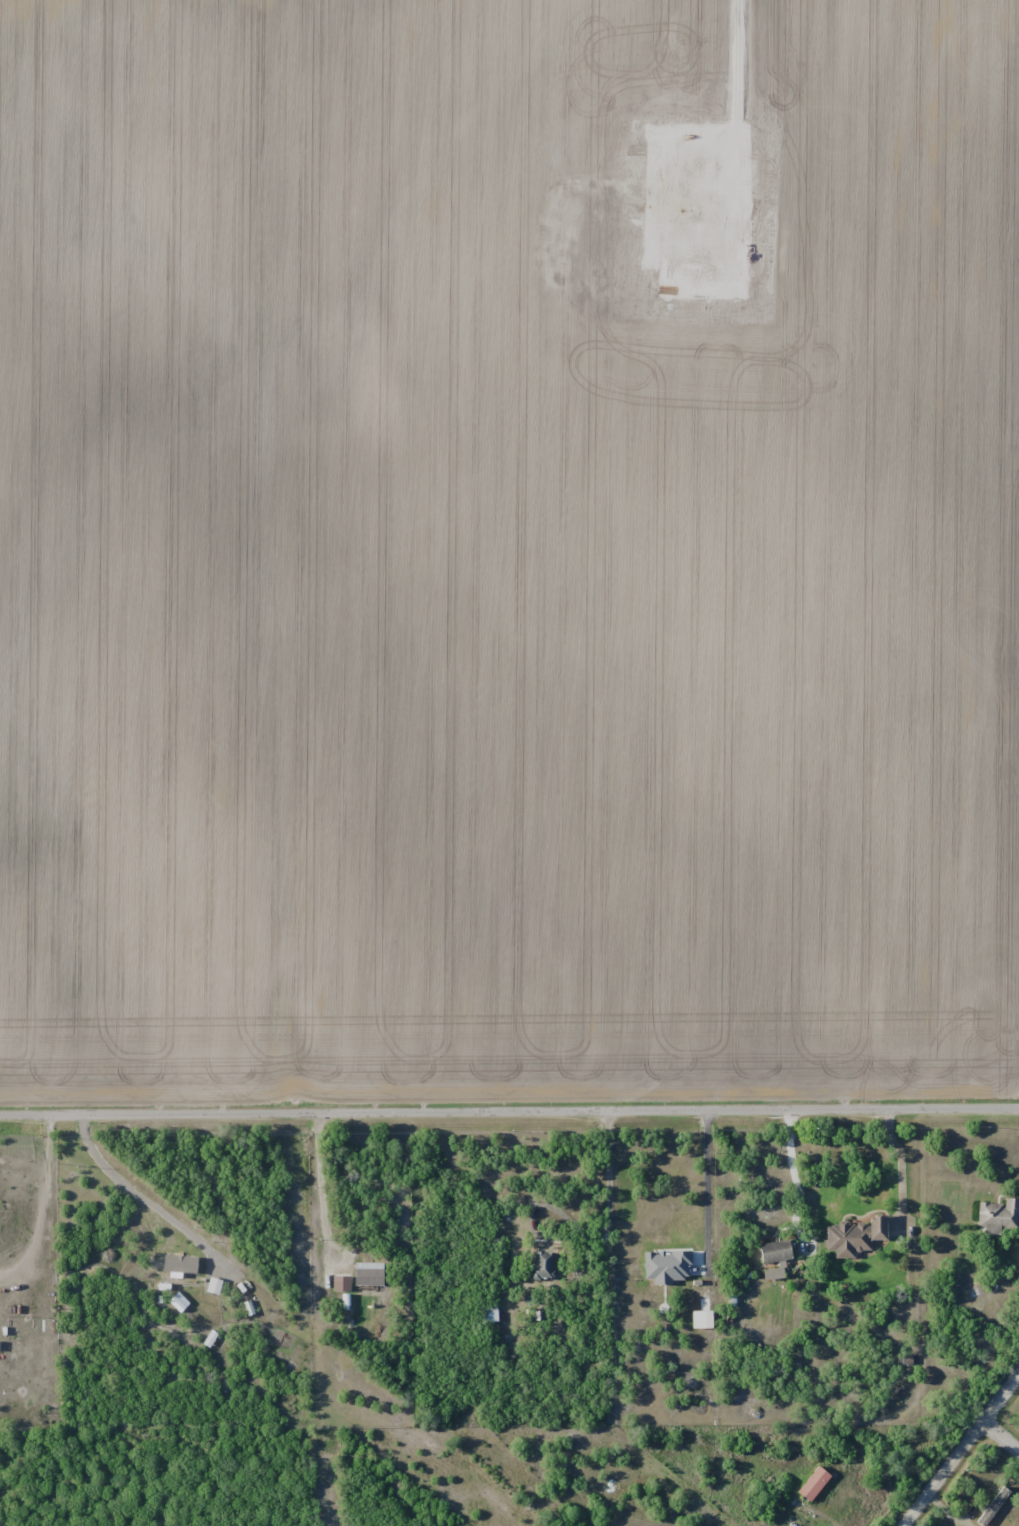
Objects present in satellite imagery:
road: (509, 1109)
road: (899, 1162)
road: (793, 1176)
road: (705, 1177)
road: (321, 1186)
building: (999, 1216)
road: (589, 1234)
building: (857, 1236)
building: (544, 1265)
building: (775, 1273)
building: (370, 1274)
building: (488, 1313)
road: (1003, 1437)
road: (965, 1453)
building: (815, 1483)

